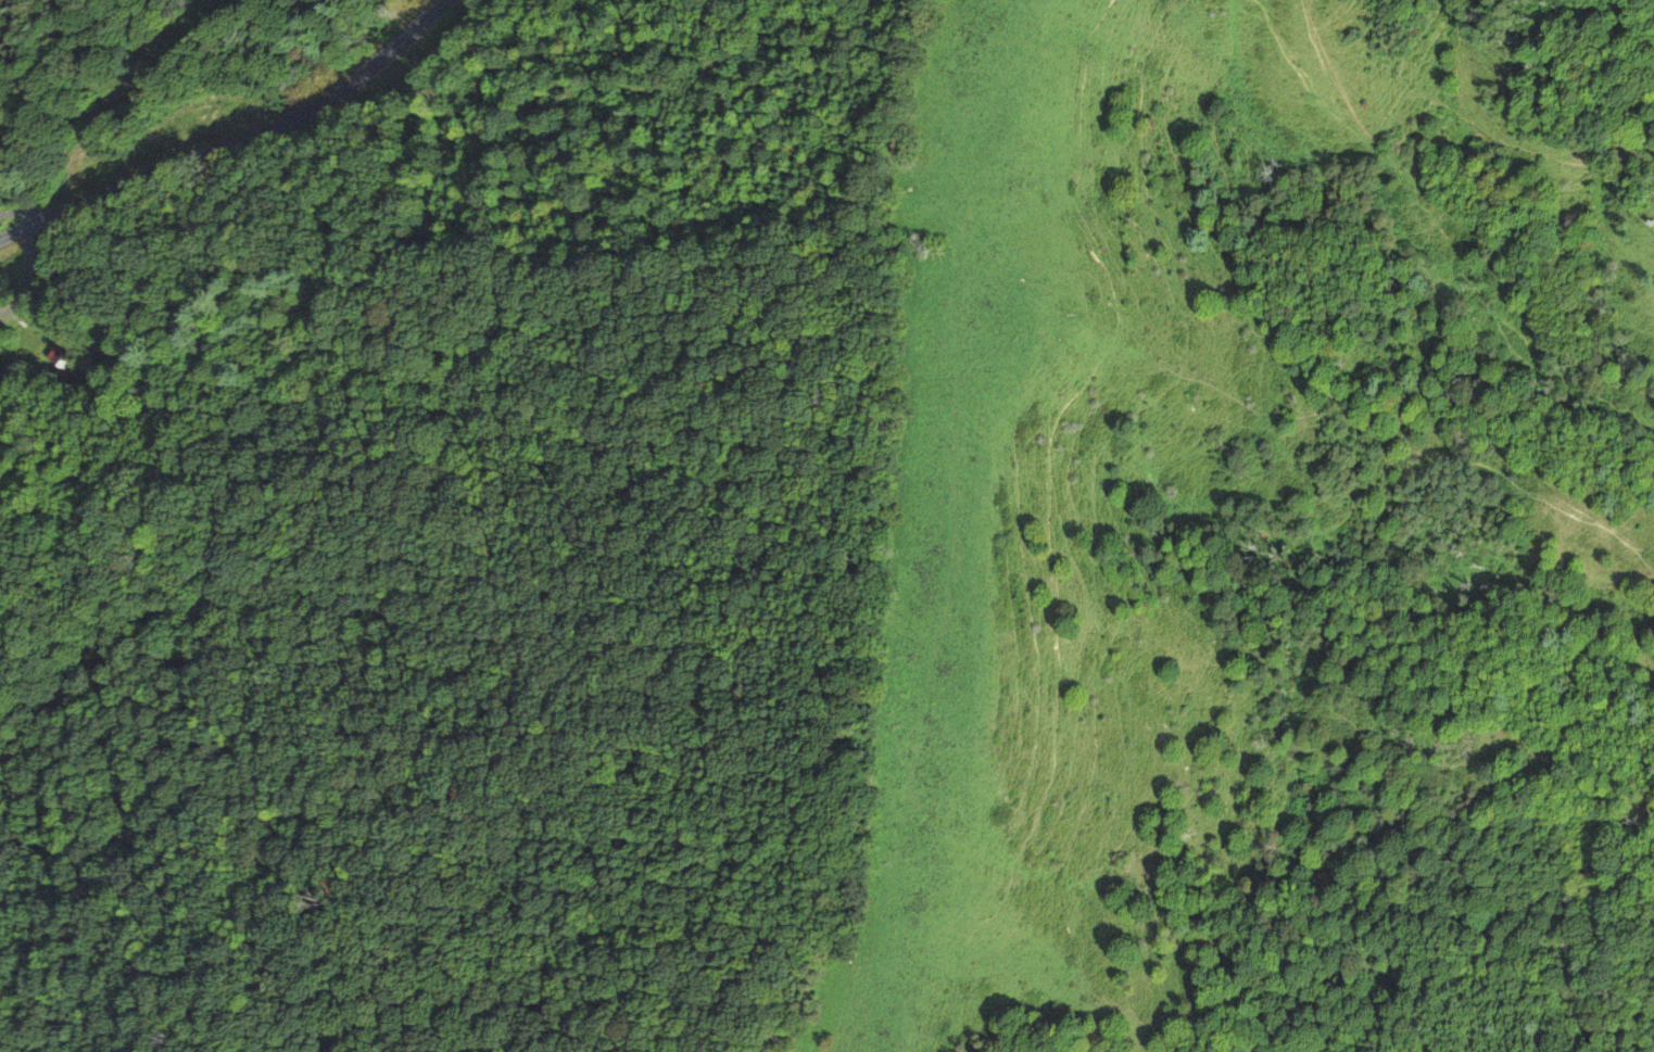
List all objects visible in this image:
road: (236, 142)
building: (0, 284)

